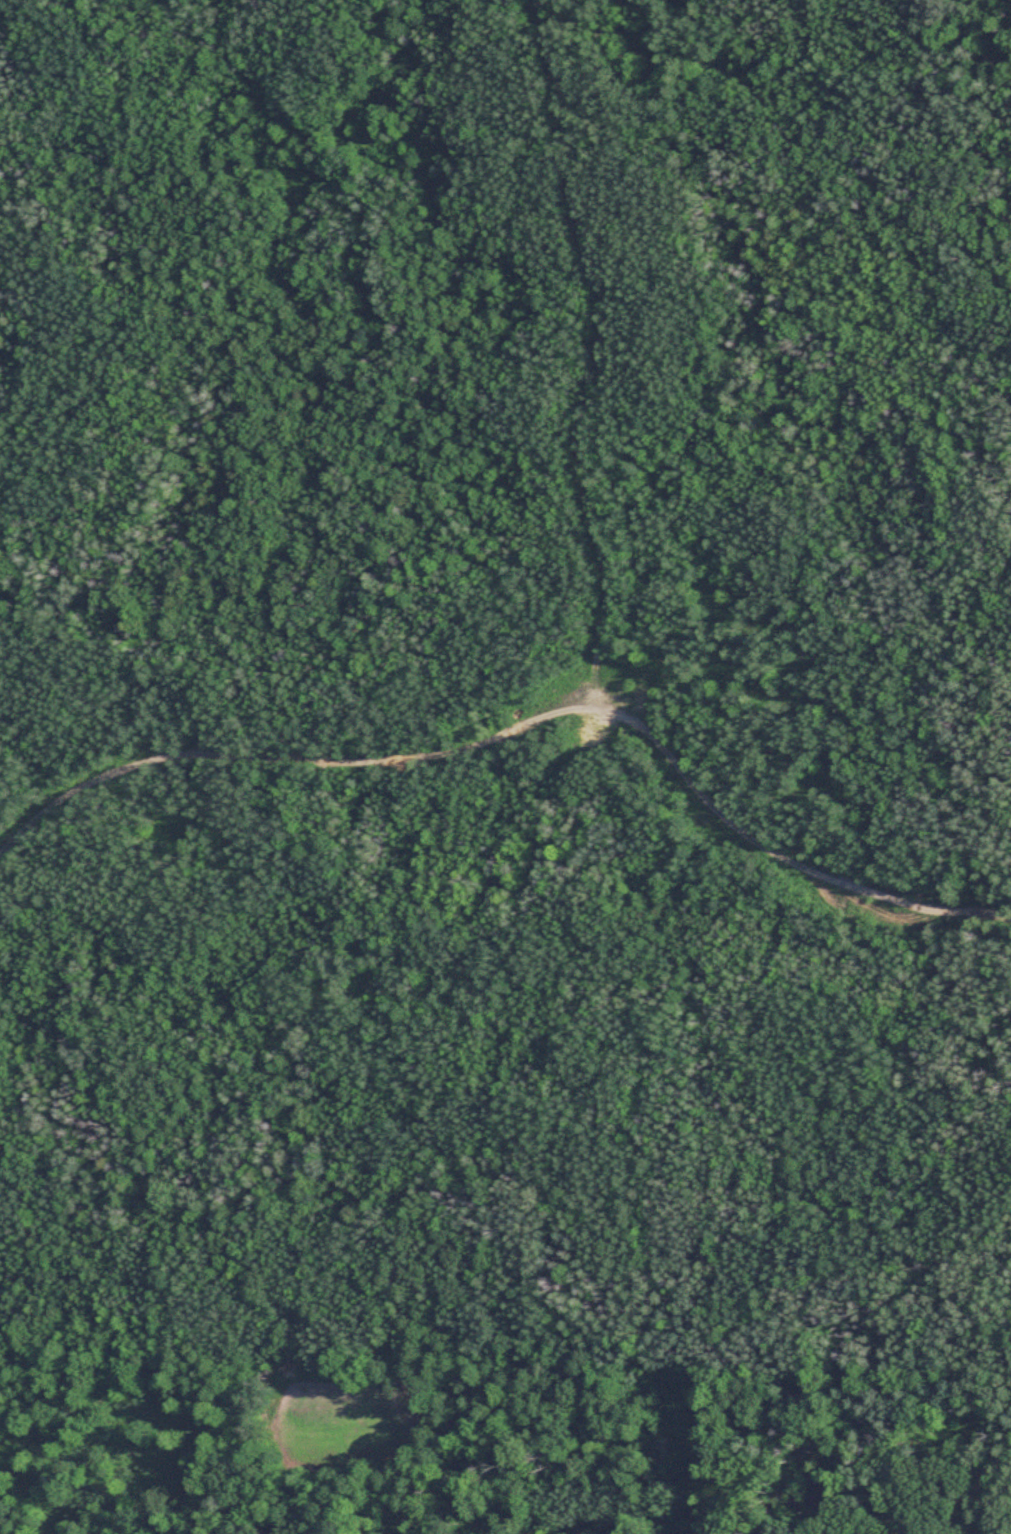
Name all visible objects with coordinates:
road: (519, 727)

